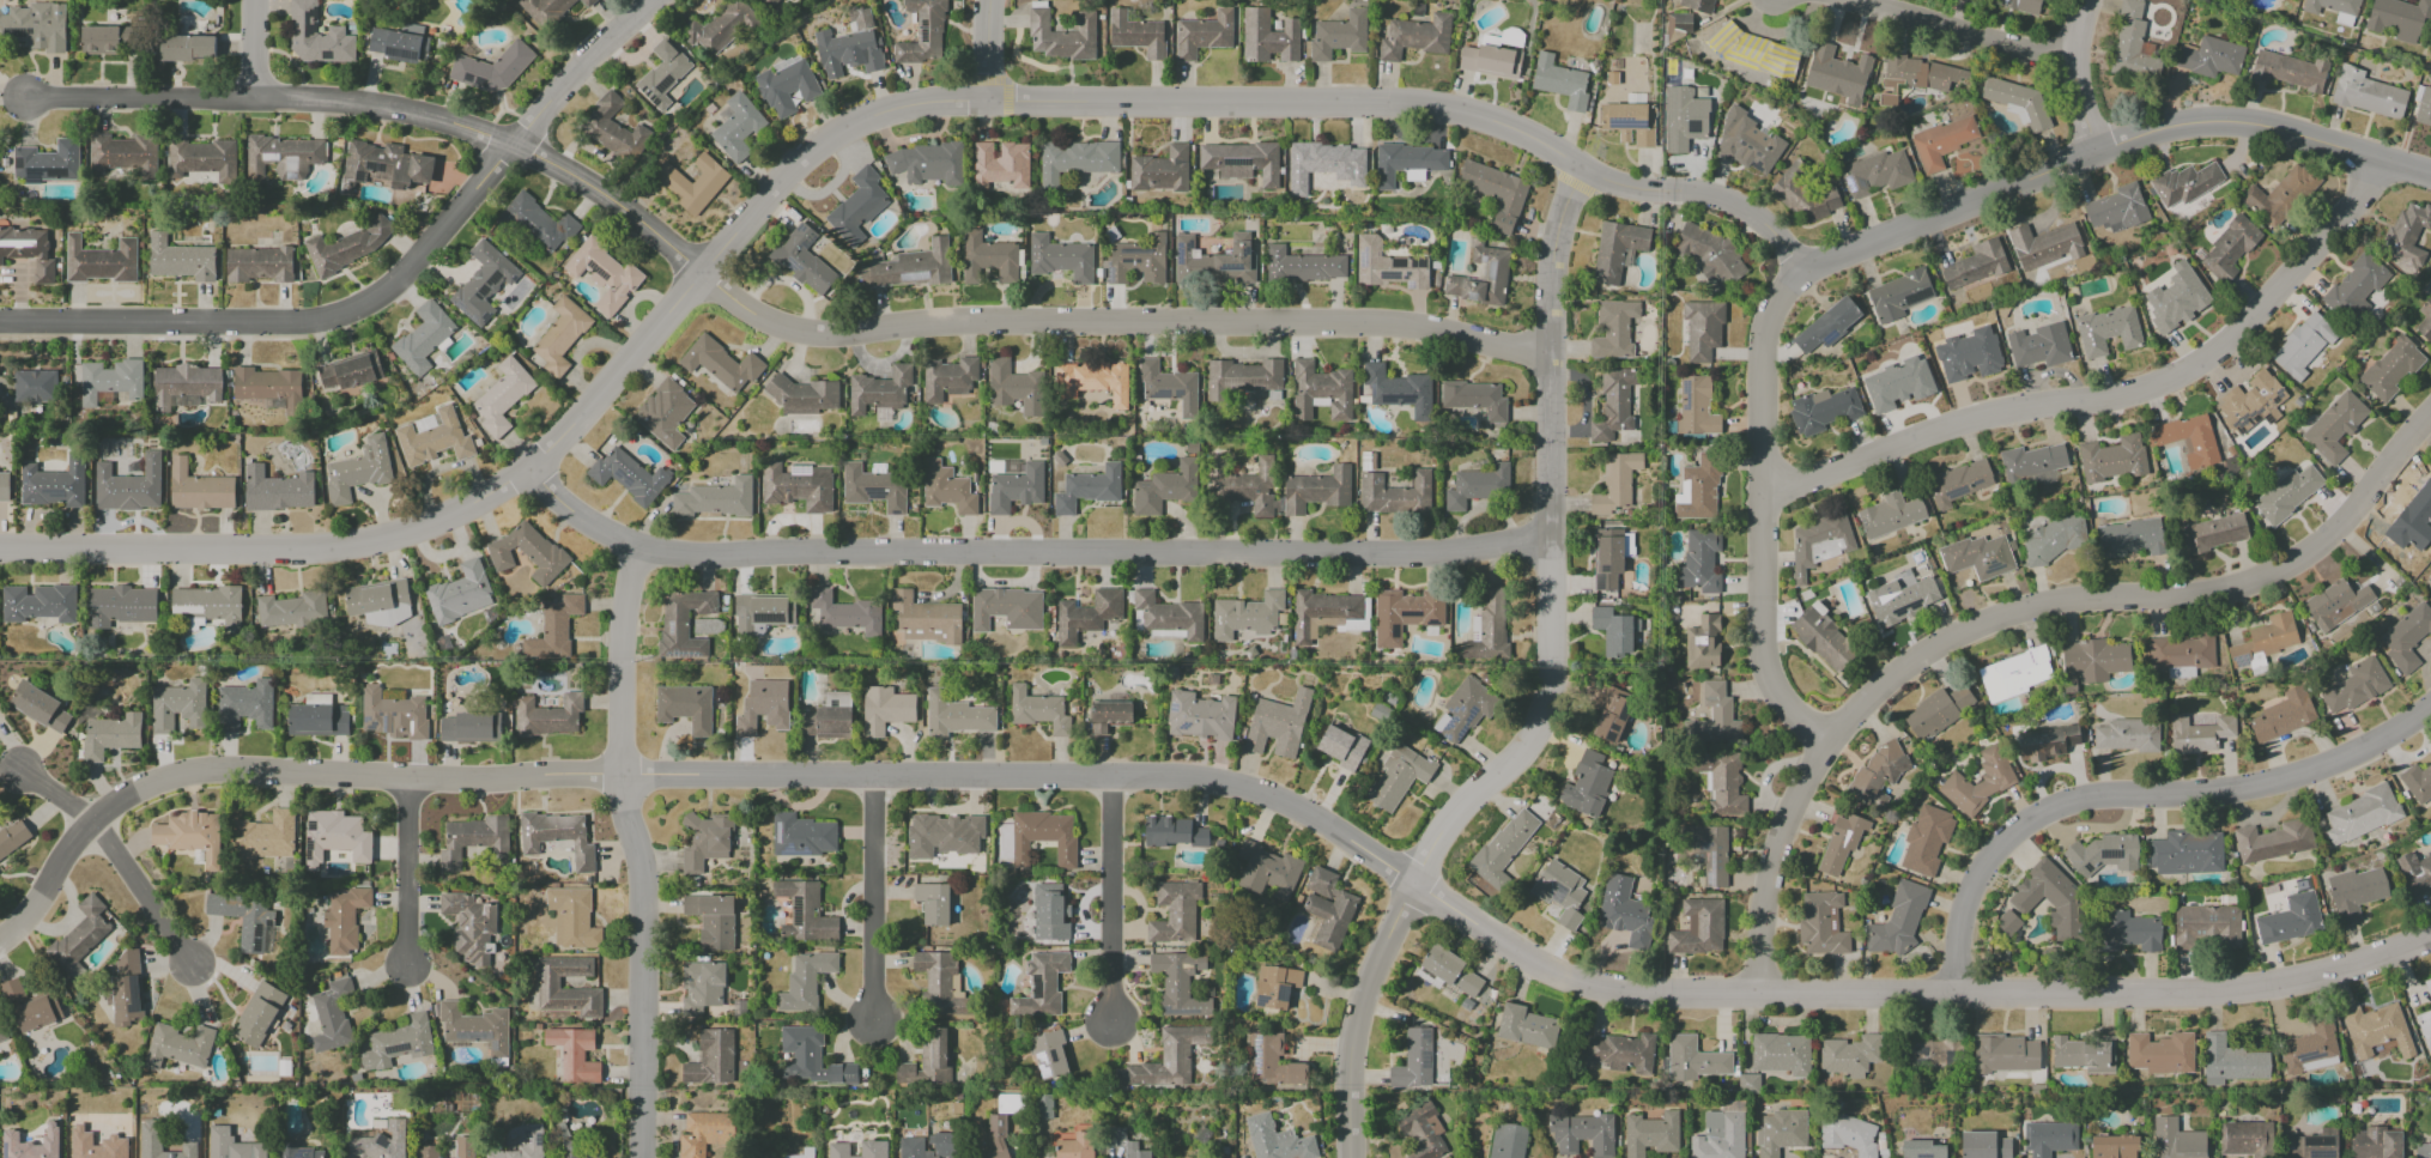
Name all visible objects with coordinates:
building: (587, 2)
building: (1698, 5)
building: (2019, 5)
building: (544, 10)
building: (2334, 10)
building: (860, 18)
building: (2401, 19)
building: (1678, 22)
building: (35, 26)
building: (720, 28)
rooftop solar panel: (29, 31)
rooftop solar panel: (22, 32)
building: (921, 34)
building: (1136, 34)
building: (1204, 34)
building: (315, 36)
building: (1061, 36)
building: (1338, 36)
road: (1956, 36)
building: (1268, 37)
building: (1414, 37)
building: (1504, 38)
building: (107, 40)
building: (399, 43)
building: (2132, 46)
building: (187, 48)
road: (255, 49)
road: (989, 49)
rooftop solar panel: (392, 51)
building: (848, 51)
building: (1753, 51)
rooftop solar panel: (405, 53)
rooftop solar panel: (416, 55)
building: (2211, 57)
building: (1490, 61)
building: (491, 68)
building: (2287, 71)
building: (662, 74)
building: (1837, 74)
road: (2078, 74)
building: (1918, 77)
building: (1559, 81)
rooftop solar panel: (665, 83)
building: (786, 85)
building: (2366, 93)
rooftop solar panel: (648, 96)
road: (139, 99)
rooftop solar panel: (656, 102)
road: (1242, 102)
building: (2017, 102)
building: (2424, 107)
building: (1684, 117)
building: (1630, 122)
rooftop solar panel: (1625, 123)
building: (614, 128)
building: (736, 128)
building: (1941, 141)
building: (1747, 144)
road: (2110, 146)
building: (123, 154)
building: (281, 157)
building: (202, 159)
building: (1075, 159)
rooftop solar panel: (17, 160)
building: (1241, 160)
building: (47, 163)
building: (927, 163)
rooftop solar panel: (1233, 163)
building: (1407, 163)
building: (384, 164)
building: (1000, 164)
building: (1324, 164)
rooftop solar panel: (377, 166)
building: (1160, 170)
rooftop solar panel: (55, 172)
building: (1877, 172)
rooftop solar panel: (30, 176)
rooftop solar panel: (360, 176)
building: (671, 180)
building: (2186, 183)
building: (1496, 193)
building: (1802, 194)
building: (2279, 195)
building: (856, 207)
building: (2117, 208)
building: (538, 223)
building: (2406, 236)
building: (347, 245)
building: (2044, 245)
building: (1617, 249)
building: (2229, 249)
building: (29, 250)
building: (1710, 254)
building: (988, 259)
building: (1060, 259)
building: (1215, 259)
building: (181, 260)
building: (804, 260)
building: (99, 261)
building: (1977, 263)
building: (259, 265)
building: (1302, 266)
building: (1388, 266)
building: (910, 267)
building: (604, 274)
rooftop solar panel: (1406, 275)
rooftop solar panel: (1392, 277)
building: (1480, 278)
building: (483, 281)
building: (2354, 287)
road: (388, 290)
building: (1898, 295)
building: (2176, 298)
rooftop solar panel: (466, 313)
rooftop solar panel: (486, 316)
building: (2425, 319)
building: (1826, 325)
building: (1613, 329)
building: (1702, 329)
road: (872, 331)
building: (2106, 331)
building: (560, 335)
building: (423, 338)
rooftop solar panel: (1829, 338)
building: (2302, 345)
building: (2038, 346)
building: (1968, 354)
building: (720, 363)
building: (2390, 368)
building: (348, 371)
building: (947, 378)
building: (1241, 378)
building: (110, 381)
building: (1091, 381)
building: (1897, 384)
building: (267, 386)
building: (34, 387)
building: (1013, 387)
building: (1168, 387)
rooftop solar panel: (1687, 388)
building: (1398, 389)
building: (879, 392)
building: (1321, 392)
building: (502, 396)
building: (804, 396)
road: (2110, 396)
building: (1475, 399)
building: (2248, 402)
building: (1613, 405)
building: (1696, 406)
building: (1823, 410)
building: (665, 412)
rooftop solar panel: (2245, 418)
rooftop solar panel: (2268, 419)
building: (2334, 426)
building: (2188, 438)
building: (434, 439)
building: (2111, 459)
building: (2031, 462)
rooftop solar panel: (799, 468)
building: (1005, 468)
building: (357, 469)
rooftop solar panel: (622, 472)
building: (628, 475)
building: (54, 483)
building: (1614, 483)
building: (1958, 483)
building: (1242, 485)
building: (128, 486)
building: (798, 486)
building: (1477, 486)
building: (4, 487)
building: (873, 487)
building: (1165, 487)
building: (199, 489)
building: (946, 489)
building: (1016, 489)
building: (1087, 489)
building: (1697, 489)
building: (277, 490)
building: (1316, 490)
rooftop solar panel: (873, 493)
building: (1395, 493)
building: (2286, 493)
building: (715, 498)
building: (1889, 515)
building: (2415, 517)
road: (1765, 520)
building: (2211, 532)
building: (2129, 538)
building: (2051, 540)
road: (404, 541)
building: (1818, 542)
building: (1627, 545)
road: (1030, 551)
building: (527, 552)
building: (1978, 556)
building: (1607, 559)
building: (1698, 562)
rooftop solar panel: (1604, 568)
rooftop solar panel: (1600, 582)
building: (460, 593)
building: (1902, 598)
building: (38, 602)
building: (378, 602)
building: (2335, 604)
building: (208, 605)
building: (120, 606)
building: (1006, 608)
building: (292, 610)
rooftop solar panel: (1898, 610)
building: (762, 612)
building: (845, 612)
building: (1247, 614)
building: (1404, 614)
building: (1086, 616)
building: (1166, 617)
rooftop solar panel: (768, 618)
building: (924, 619)
building: (683, 623)
road: (2012, 626)
rooftop solar panel: (669, 627)
building: (1487, 627)
building: (553, 629)
building: (1614, 630)
building: (2407, 637)
building: (1823, 638)
building: (2263, 642)
building: (1702, 643)
building: (2181, 654)
rooftop solar panel: (686, 655)
rooftop solar panel: (2243, 657)
building: (2093, 660)
building: (2014, 673)
building: (2353, 686)
road: (1548, 690)
building: (244, 705)
building: (38, 707)
building: (178, 707)
building: (685, 707)
building: (763, 707)
rooftop solar panel: (1171, 707)
building: (885, 709)
building: (1465, 709)
building: (1037, 710)
rooftop solar panel: (1453, 711)
building: (1938, 711)
building: (1611, 713)
building: (390, 714)
building: (2283, 715)
building: (547, 716)
building: (954, 716)
building: (1109, 716)
building: (1199, 716)
building: (317, 717)
building: (1712, 717)
rooftop solar panel: (366, 719)
building: (826, 719)
rooftop solar panel: (1468, 723)
building: (1278, 724)
rooftop solar panel: (1451, 724)
rooftop solar panel: (374, 726)
rooftop solar panel: (386, 726)
building: (469, 727)
rooftop solar panel: (1182, 727)
building: (2199, 734)
building: (110, 735)
building: (2127, 735)
rooftop solar panel: (1447, 738)
building: (2045, 742)
building: (1341, 746)
building: (1877, 776)
building: (1398, 777)
building: (1721, 782)
building: (1977, 782)
building: (2417, 783)
building: (1587, 784)
road: (1206, 789)
road: (55, 795)
road: (2138, 800)
building: (2360, 814)
rooftop solar panel: (313, 825)
building: (187, 832)
rooftop solar panel: (777, 835)
building: (942, 835)
building: (801, 836)
building: (1180, 836)
building: (12, 837)
building: (263, 837)
building: (334, 837)
building: (557, 837)
building: (1043, 837)
building: (473, 839)
building: (1926, 839)
building: (704, 841)
building: (2273, 841)
building: (1839, 842)
rooftop solar panel: (1704, 847)
rooftop solar panel: (309, 849)
building: (1705, 851)
road: (623, 853)
rooftop solar panel: (788, 853)
building: (1499, 853)
building: (2187, 853)
building: (2104, 854)
rooftop solar panel: (2111, 854)
rooftop solar panel: (1712, 857)
building: (1267, 871)
building: (2414, 873)
road: (406, 874)
rooftop solar panel: (1710, 878)
building: (1560, 892)
building: (2354, 892)
road: (144, 895)
rooftop solar panel: (1558, 895)
road: (874, 896)
road: (1113, 897)
building: (2049, 898)
building: (932, 903)
building: (1328, 909)
building: (1175, 911)
building: (1624, 911)
building: (804, 913)
building: (1050, 913)
rooftop solar panel: (798, 914)
building: (571, 917)
building: (344, 918)
building: (2290, 918)
building: (244, 920)
building: (711, 920)
building: (1897, 920)
building: (1821, 923)
building: (2007, 923)
rooftop solar panel: (272, 927)
building: (469, 927)
building: (2206, 927)
building: (1698, 928)
building: (2127, 932)
rooftop solar panel: (259, 933)
building: (78, 938)
rooftop solar panel: (266, 939)
rooftop solar panel: (259, 946)
building: (1450, 970)
building: (805, 981)
building: (547, 982)
building: (939, 982)
building: (1177, 982)
building: (1041, 984)
building: (701, 987)
building: (1274, 987)
building: (2427, 987)
building: (126, 989)
rooftop solar panel: (1284, 992)
rooftop solar panel: (133, 994)
rooftop solar panel: (1257, 1002)
building: (30, 1007)
building: (259, 1014)
building: (331, 1015)
building: (475, 1027)
building: (1526, 1027)
building: (2425, 1027)
building: (2376, 1032)
building: (1, 1033)
rooftop solar panel: (467, 1035)
building: (398, 1043)
rooftop solar panel: (492, 1045)
building: (177, 1047)
building: (2309, 1048)
rooftop solar panel: (1255, 1053)
building: (1623, 1053)
building: (1933, 1053)
building: (2160, 1053)
building: (574, 1054)
building: (1781, 1054)
building: (2005, 1054)
building: (2084, 1054)
building: (1049, 1055)
building: (1850, 1055)
building: (810, 1057)
building: (710, 1059)
building: (1164, 1060)
building: (1272, 1060)
building: (1413, 1060)
building: (1693, 1060)
building: (927, 1061)
building: (2231, 1062)
building: (1747, 1083)
building: (1007, 1103)
building: (1043, 1107)
building: (1421, 1132)
building: (1781, 1132)
building: (705, 1133)
building: (1582, 1134)
building: (1650, 1134)
building: (1848, 1134)
building: (532, 1135)
building: (998, 1136)
building: (1718, 1136)
building: (2048, 1138)
building: (2245, 1139)
building: (1275, 1140)
building: (2176, 1140)
building: (1507, 1141)
rooftop solar panel: (2314, 1141)
building: (159, 1142)
rooftop solar panel: (380, 1142)
building: (381, 1142)
building: (1124, 1142)
building: (2375, 1142)
building: (31, 1144)
building: (910, 1144)
building: (1075, 1144)
building: (96, 1145)
building: (231, 1145)
building: (1983, 1145)
building: (2312, 1145)
building: (2112, 1146)
building: (463, 1147)
building: (873, 1148)
building: (572, 1150)
building: (1921, 1150)
building: (2423, 1150)
building: (298, 1151)
building: (426, 1152)
building: (790, 1154)
rooftop solar panel: (2320, 1154)
rooftop solar panel: (295, 1157)
rooftop solar panel: (1926, 1157)

